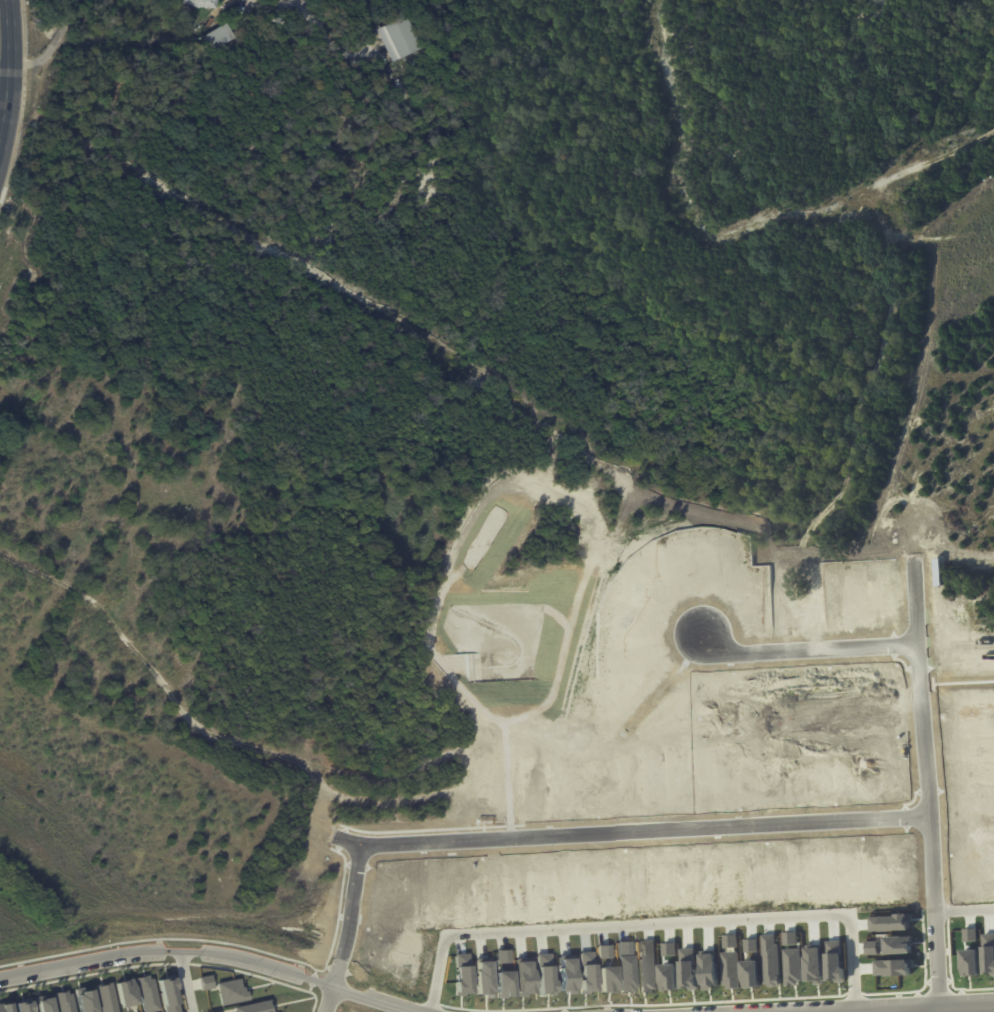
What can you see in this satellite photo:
building: (195, 4)
building: (216, 39)
building: (397, 39)
road: (11, 48)
road: (54, 48)
road: (4, 97)
road: (4, 122)
building: (330, 149)
road: (812, 647)
road: (926, 781)
building: (485, 820)
road: (588, 832)
road: (966, 903)
road: (664, 918)
building: (965, 934)
road: (210, 951)
building: (837, 963)
building: (730, 969)
building: (891, 970)
building: (751, 973)
building: (586, 977)
road: (184, 981)
building: (207, 982)
road: (332, 983)
building: (503, 983)
building: (232, 990)
building: (129, 992)
building: (148, 993)
building: (171, 994)
building: (107, 997)
building: (65, 1001)
building: (89, 1001)
building: (48, 1005)
building: (24, 1006)
building: (8, 1007)
building: (253, 1007)
road: (927, 1007)
road: (632, 1011)

